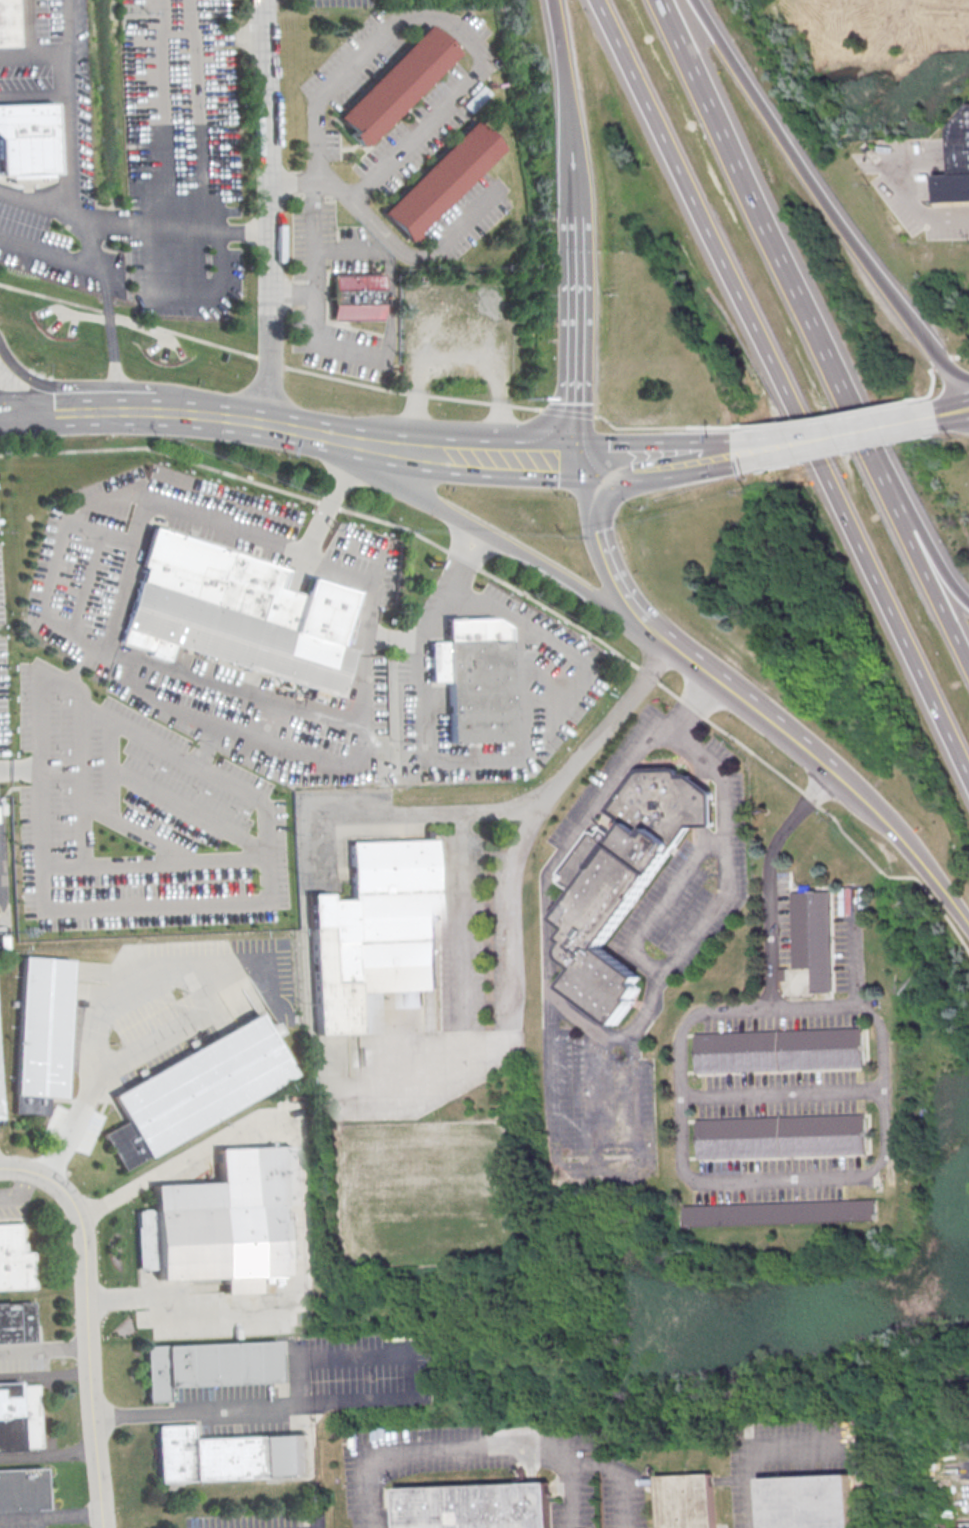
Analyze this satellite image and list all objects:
parking lot: (333, 2)
road: (174, 7)
building: (8, 24)
road: (449, 25)
road: (239, 39)
road: (37, 53)
parking lot: (55, 82)
road: (330, 83)
building: (394, 86)
parking lot: (446, 101)
road: (67, 105)
road: (565, 106)
road: (416, 129)
building: (28, 147)
road: (179, 149)
parking lot: (180, 157)
building: (957, 165)
road: (316, 170)
building: (439, 182)
parking lot: (915, 185)
road: (903, 186)
road: (309, 189)
road: (355, 190)
road: (826, 197)
road: (269, 211)
road: (357, 211)
parking lot: (466, 216)
road: (467, 217)
road: (175, 233)
road: (776, 239)
parking lot: (56, 252)
road: (50, 253)
road: (95, 257)
road: (385, 270)
road: (184, 291)
road: (290, 293)
parking lot: (313, 293)
building: (355, 297)
road: (311, 305)
road: (575, 337)
road: (267, 361)
road: (938, 365)
traffic signals: (75, 384)
road: (106, 384)
road: (783, 392)
road: (851, 408)
road: (566, 410)
road: (84, 412)
road: (195, 412)
road: (932, 414)
road: (247, 417)
road: (682, 426)
road: (840, 433)
road: (330, 434)
road: (753, 449)
road: (484, 456)
road: (651, 458)
traffic signals: (581, 460)
road: (472, 524)
road: (600, 530)
road: (116, 536)
road: (926, 543)
road: (927, 567)
road: (112, 595)
road: (537, 602)
road: (445, 608)
building: (238, 614)
road: (650, 616)
road: (109, 656)
road: (370, 670)
building: (477, 680)
road: (157, 699)
road: (757, 710)
road: (684, 740)
road: (518, 758)
road: (20, 766)
parking lot: (606, 777)
road: (82, 780)
road: (110, 781)
road: (189, 810)
road: (426, 811)
road: (586, 821)
road: (156, 837)
road: (714, 841)
road: (268, 849)
road: (912, 850)
road: (724, 857)
road: (156, 863)
parking lot: (694, 881)
building: (626, 882)
road: (665, 895)
road: (512, 899)
road: (768, 915)
parking lot: (776, 918)
parking lot: (847, 936)
building: (377, 937)
road: (462, 938)
building: (814, 938)
road: (855, 947)
road: (641, 962)
road: (814, 1007)
road: (650, 1008)
parking lot: (777, 1015)
road: (188, 1022)
road: (589, 1027)
building: (42, 1033)
road: (598, 1040)
building: (777, 1049)
road: (882, 1086)
road: (875, 1089)
building: (195, 1091)
parking lot: (783, 1093)
road: (784, 1093)
road: (680, 1094)
road: (690, 1096)
road: (555, 1097)
road: (599, 1108)
parking lot: (598, 1112)
road: (638, 1113)
building: (785, 1136)
road: (599, 1170)
road: (781, 1176)
parking lot: (777, 1180)
road: (19, 1192)
road: (298, 1197)
building: (783, 1214)
building: (226, 1221)
building: (12, 1260)
road: (86, 1323)
building: (15, 1324)
road: (44, 1349)
building: (208, 1367)
road: (45, 1372)
road: (412, 1378)
road: (231, 1411)
building: (18, 1418)
road: (471, 1450)
road: (757, 1451)
road: (48, 1453)
building: (230, 1457)
road: (622, 1473)
building: (21, 1490)
building: (693, 1501)
building: (811, 1502)
building: (476, 1507)
road: (50, 1513)

